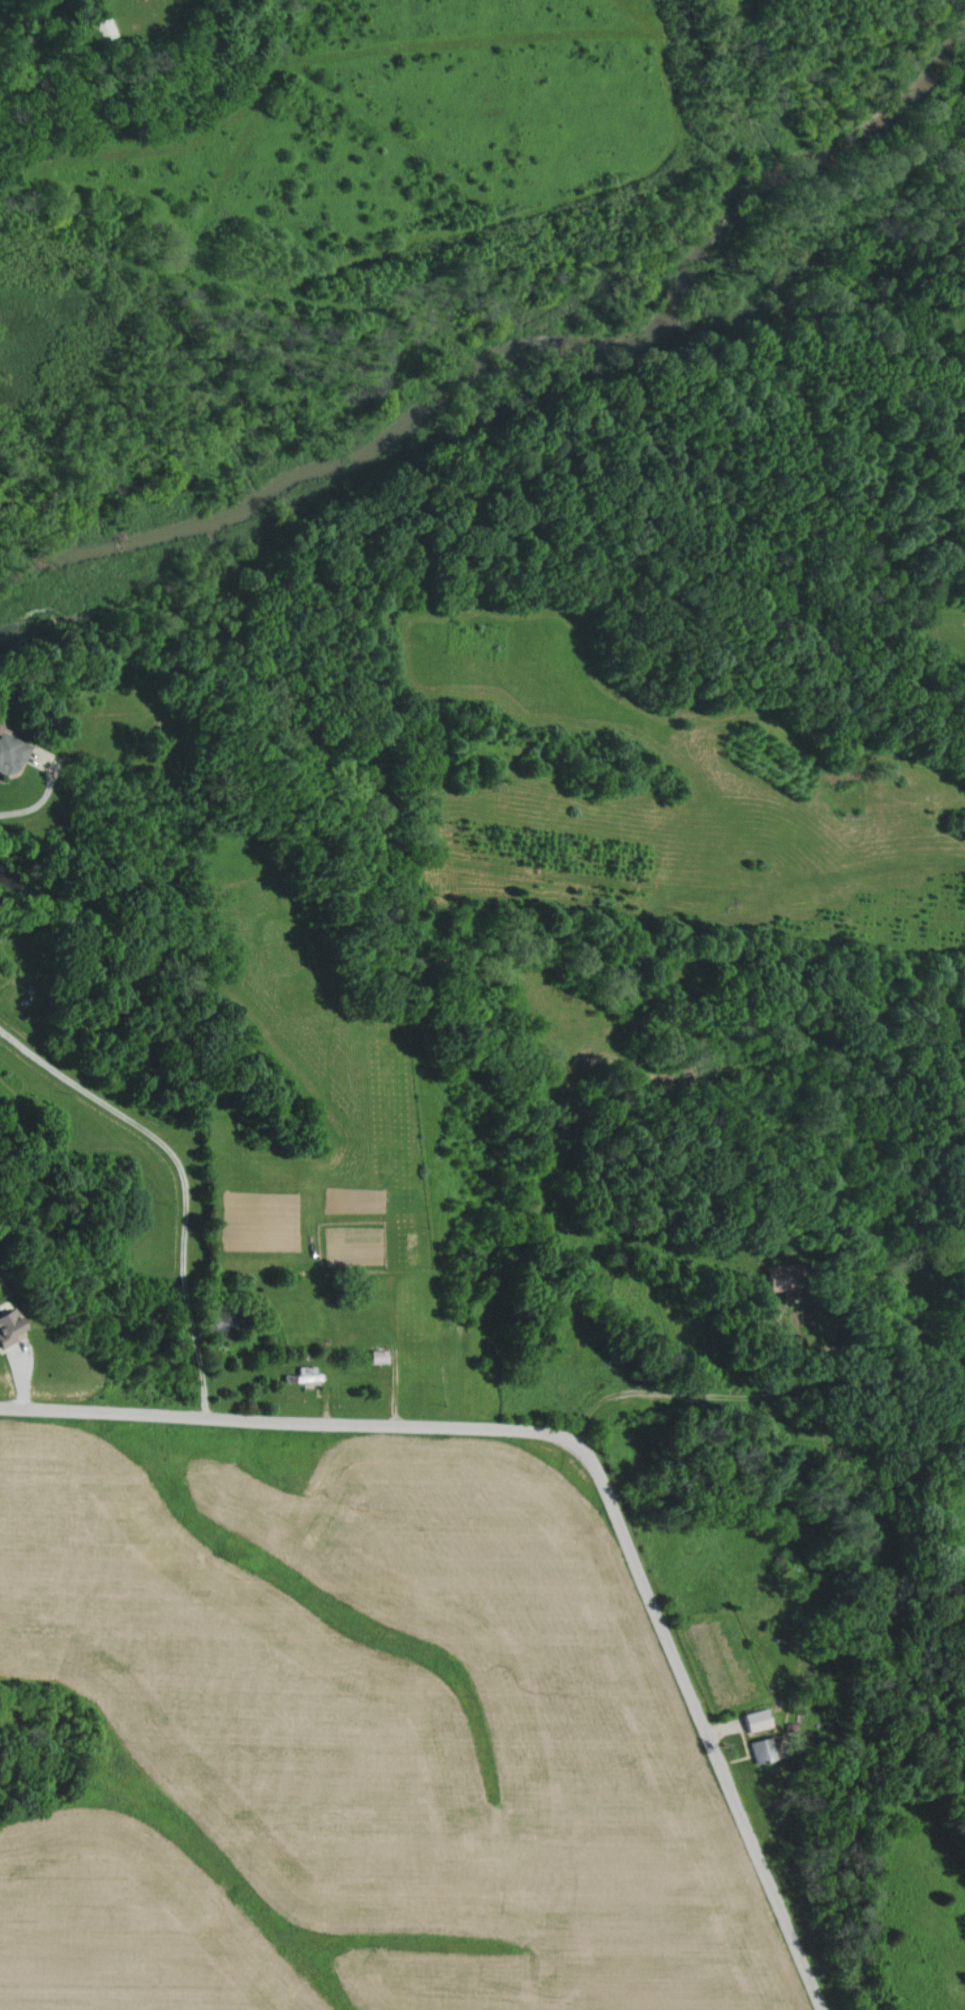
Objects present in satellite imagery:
building: (10, 753)
road: (33, 805)
road: (180, 1179)
building: (9, 1326)
road: (720, 1393)
road: (272, 1418)
road: (699, 1707)
building: (756, 1719)
building: (761, 1749)

